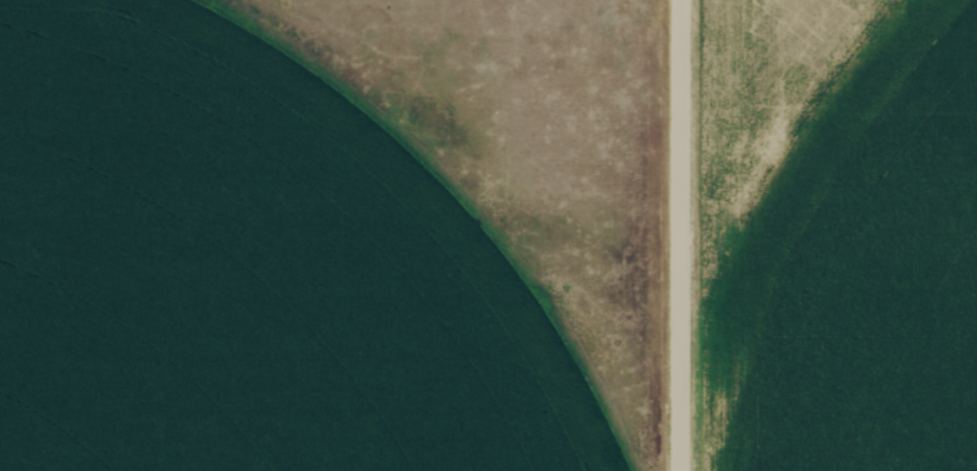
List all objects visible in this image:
road: (676, 235)

